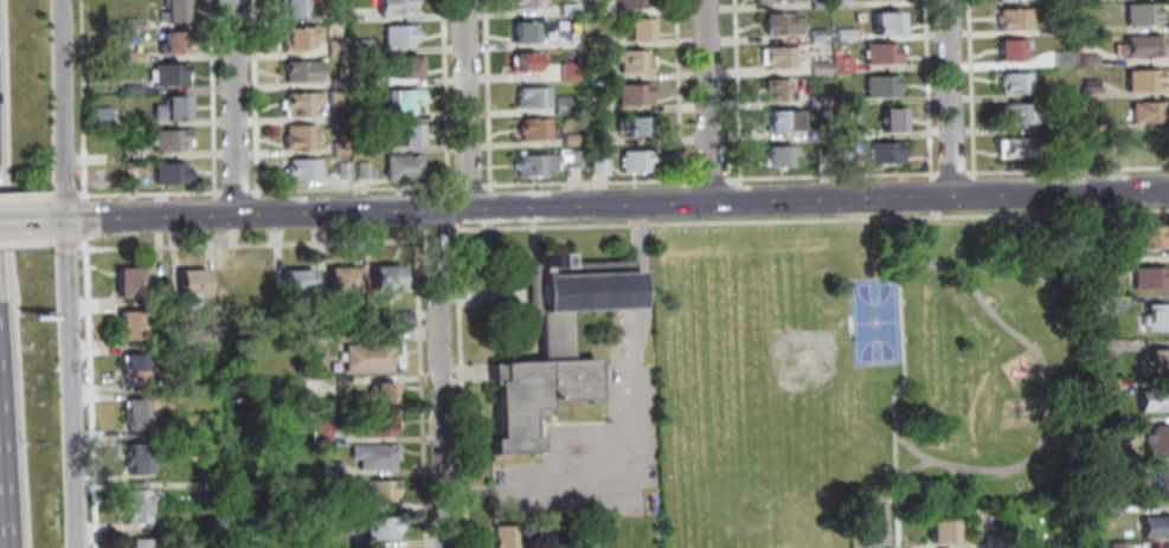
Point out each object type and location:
building: (781, 0)
building: (532, 4)
building: (634, 4)
building: (846, 4)
building: (823, 5)
building: (398, 7)
building: (294, 9)
building: (172, 11)
building: (571, 11)
building: (596, 11)
building: (1148, 14)
building: (336, 19)
building: (1017, 20)
building: (129, 24)
building: (785, 25)
building: (889, 25)
building: (1066, 27)
building: (640, 30)
building: (528, 33)
building: (400, 36)
building: (848, 36)
building: (822, 37)
building: (301, 39)
building: (173, 44)
building: (597, 44)
building: (338, 49)
building: (364, 49)
building: (1144, 49)
building: (1015, 52)
building: (886, 54)
building: (577, 56)
building: (134, 57)
building: (779, 58)
building: (1068, 59)
building: (1092, 60)
building: (634, 62)
building: (525, 64)
building: (844, 65)
building: (407, 69)
building: (823, 69)
building: (302, 72)
building: (572, 72)
building: (168, 75)
building: (597, 75)
building: (366, 82)
building: (1149, 82)
building: (341, 84)
building: (1019, 85)
road: (931, 86)
building: (884, 88)
building: (133, 90)
road: (682, 90)
road: (740, 90)
building: (1094, 90)
building: (778, 91)
road: (490, 94)
building: (1070, 94)
road: (448, 96)
building: (636, 96)
road: (955, 97)
road: (256, 98)
building: (339, 98)
building: (534, 98)
road: (83, 99)
road: (213, 99)
road: (713, 99)
building: (850, 101)
building: (403, 102)
building: (821, 102)
building: (303, 104)
road: (469, 104)
building: (565, 105)
road: (236, 107)
building: (598, 108)
road: (63, 109)
building: (171, 110)
building: (828, 112)
building: (365, 114)
building: (1020, 114)
building: (1150, 114)
building: (101, 117)
building: (783, 122)
building: (895, 122)
building: (1096, 125)
building: (635, 127)
building: (1071, 127)
building: (537, 130)
building: (861, 134)
building: (412, 137)
building: (301, 138)
building: (602, 140)
building: (169, 141)
building: (574, 141)
building: (1152, 146)
building: (342, 148)
building: (367, 148)
building: (1016, 149)
building: (888, 153)
building: (783, 157)
building: (849, 157)
building: (1097, 159)
building: (577, 160)
building: (638, 162)
building: (537, 166)
building: (602, 167)
building: (406, 168)
building: (304, 170)
building: (365, 170)
building: (345, 172)
building: (172, 174)
road: (950, 174)
road: (834, 176)
road: (712, 181)
road: (591, 182)
road: (473, 186)
road: (354, 187)
road: (237, 192)
road: (72, 194)
road: (155, 194)
road: (54, 195)
road: (26, 196)
road: (617, 204)
road: (455, 207)
road: (226, 214)
road: (248, 214)
road: (86, 219)
road: (59, 220)
traffic signals: (66, 220)
road: (810, 220)
road: (26, 221)
road: (438, 231)
road: (236, 237)
building: (1150, 238)
road: (56, 243)
road: (27, 244)
road: (72, 244)
road: (252, 244)
building: (1104, 246)
road: (645, 258)
road: (68, 262)
building: (1106, 265)
building: (388, 279)
building: (1154, 279)
building: (345, 282)
building: (194, 284)
building: (300, 284)
building: (131, 285)
building: (1106, 308)
building: (375, 317)
building: (406, 318)
building: (1160, 318)
building: (361, 320)
park: (878, 323)
building: (133, 328)
building: (1110, 347)
building: (555, 350)
building: (371, 357)
building: (317, 360)
road: (910, 363)
building: (1161, 363)
building: (136, 372)
park: (868, 373)
road: (444, 378)
road: (424, 386)
road: (465, 386)
building: (1112, 389)
road: (1048, 391)
road: (92, 393)
building: (387, 395)
park: (773, 402)
building: (1155, 402)
building: (139, 417)
building: (383, 425)
road: (72, 426)
building: (1136, 427)
road: (5, 433)
building: (326, 433)
building: (1162, 443)
road: (916, 451)
building: (378, 458)
building: (141, 462)
building: (336, 470)
building: (1156, 478)
building: (216, 485)
road: (629, 488)
building: (384, 491)
building: (140, 508)
building: (343, 508)
building: (1116, 509)
building: (218, 522)
road: (882, 527)
road: (901, 527)
building: (383, 529)
building: (1157, 529)
building: (945, 534)
building: (507, 536)
building: (998, 541)
building: (147, 543)
building: (1122, 546)
building: (1158, 546)

